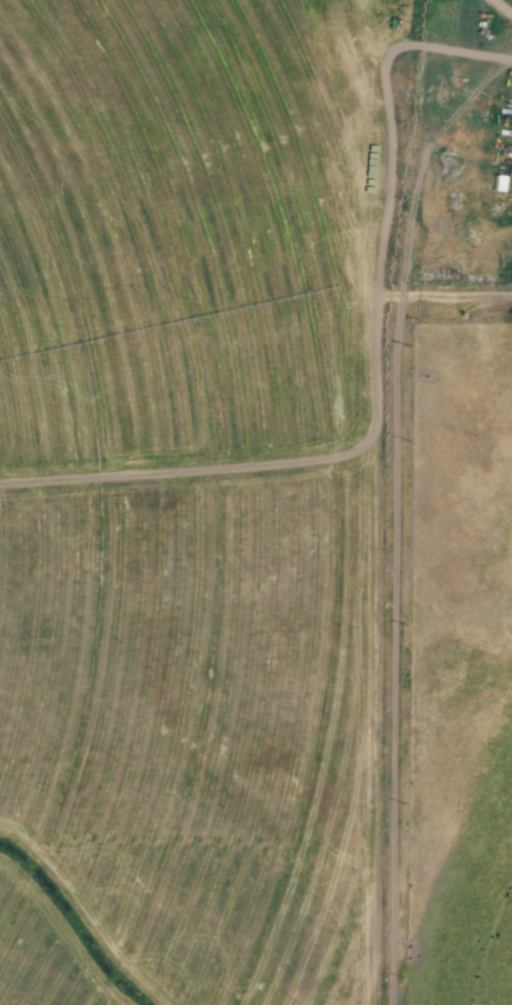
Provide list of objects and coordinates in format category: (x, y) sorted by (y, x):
crop: (357, 32)
road: (404, 139)
building: (501, 182)
building: (510, 183)
road: (474, 291)
crop: (184, 501)
road: (394, 649)
crop: (470, 889)

